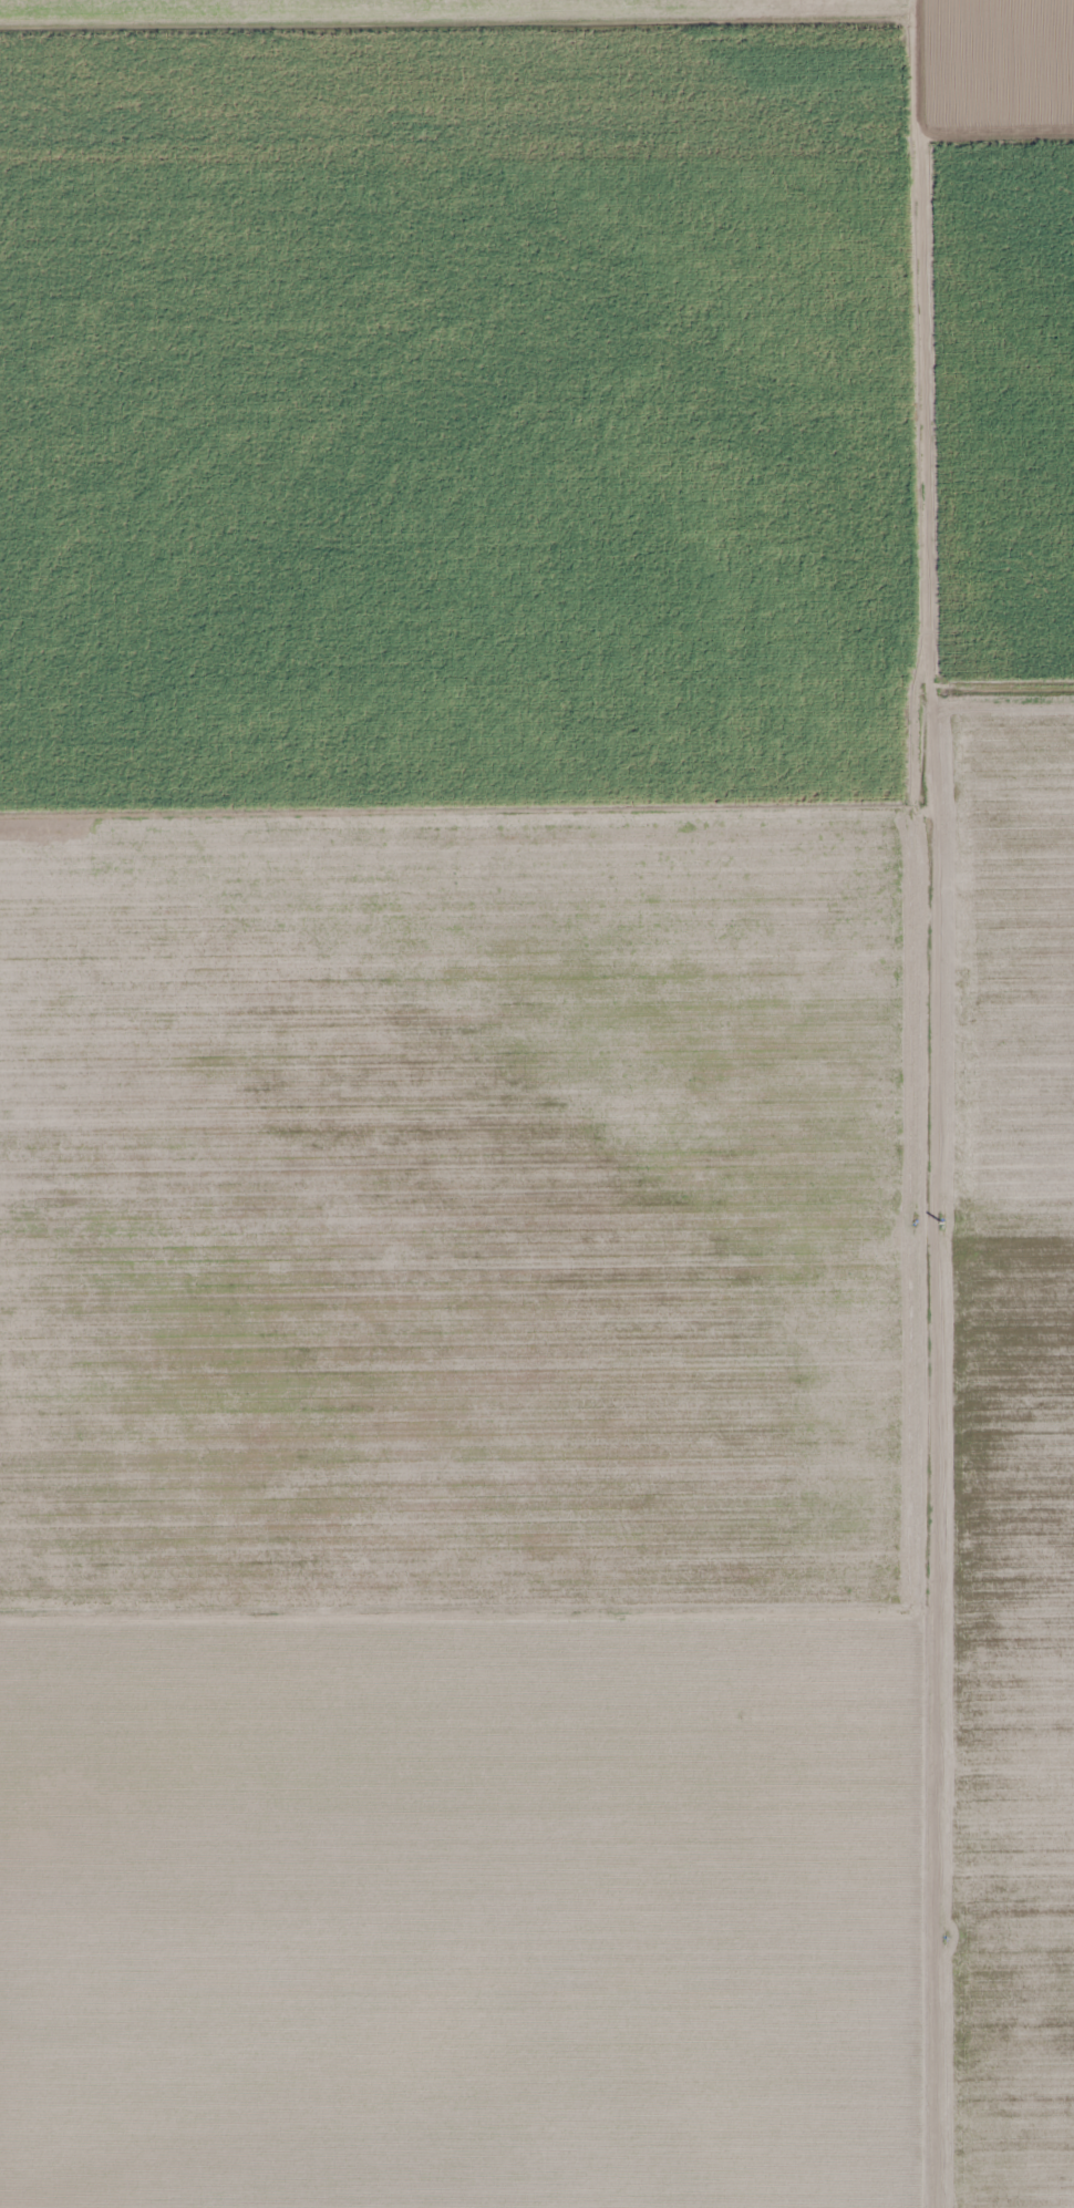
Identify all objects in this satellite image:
road: (933, 1101)

